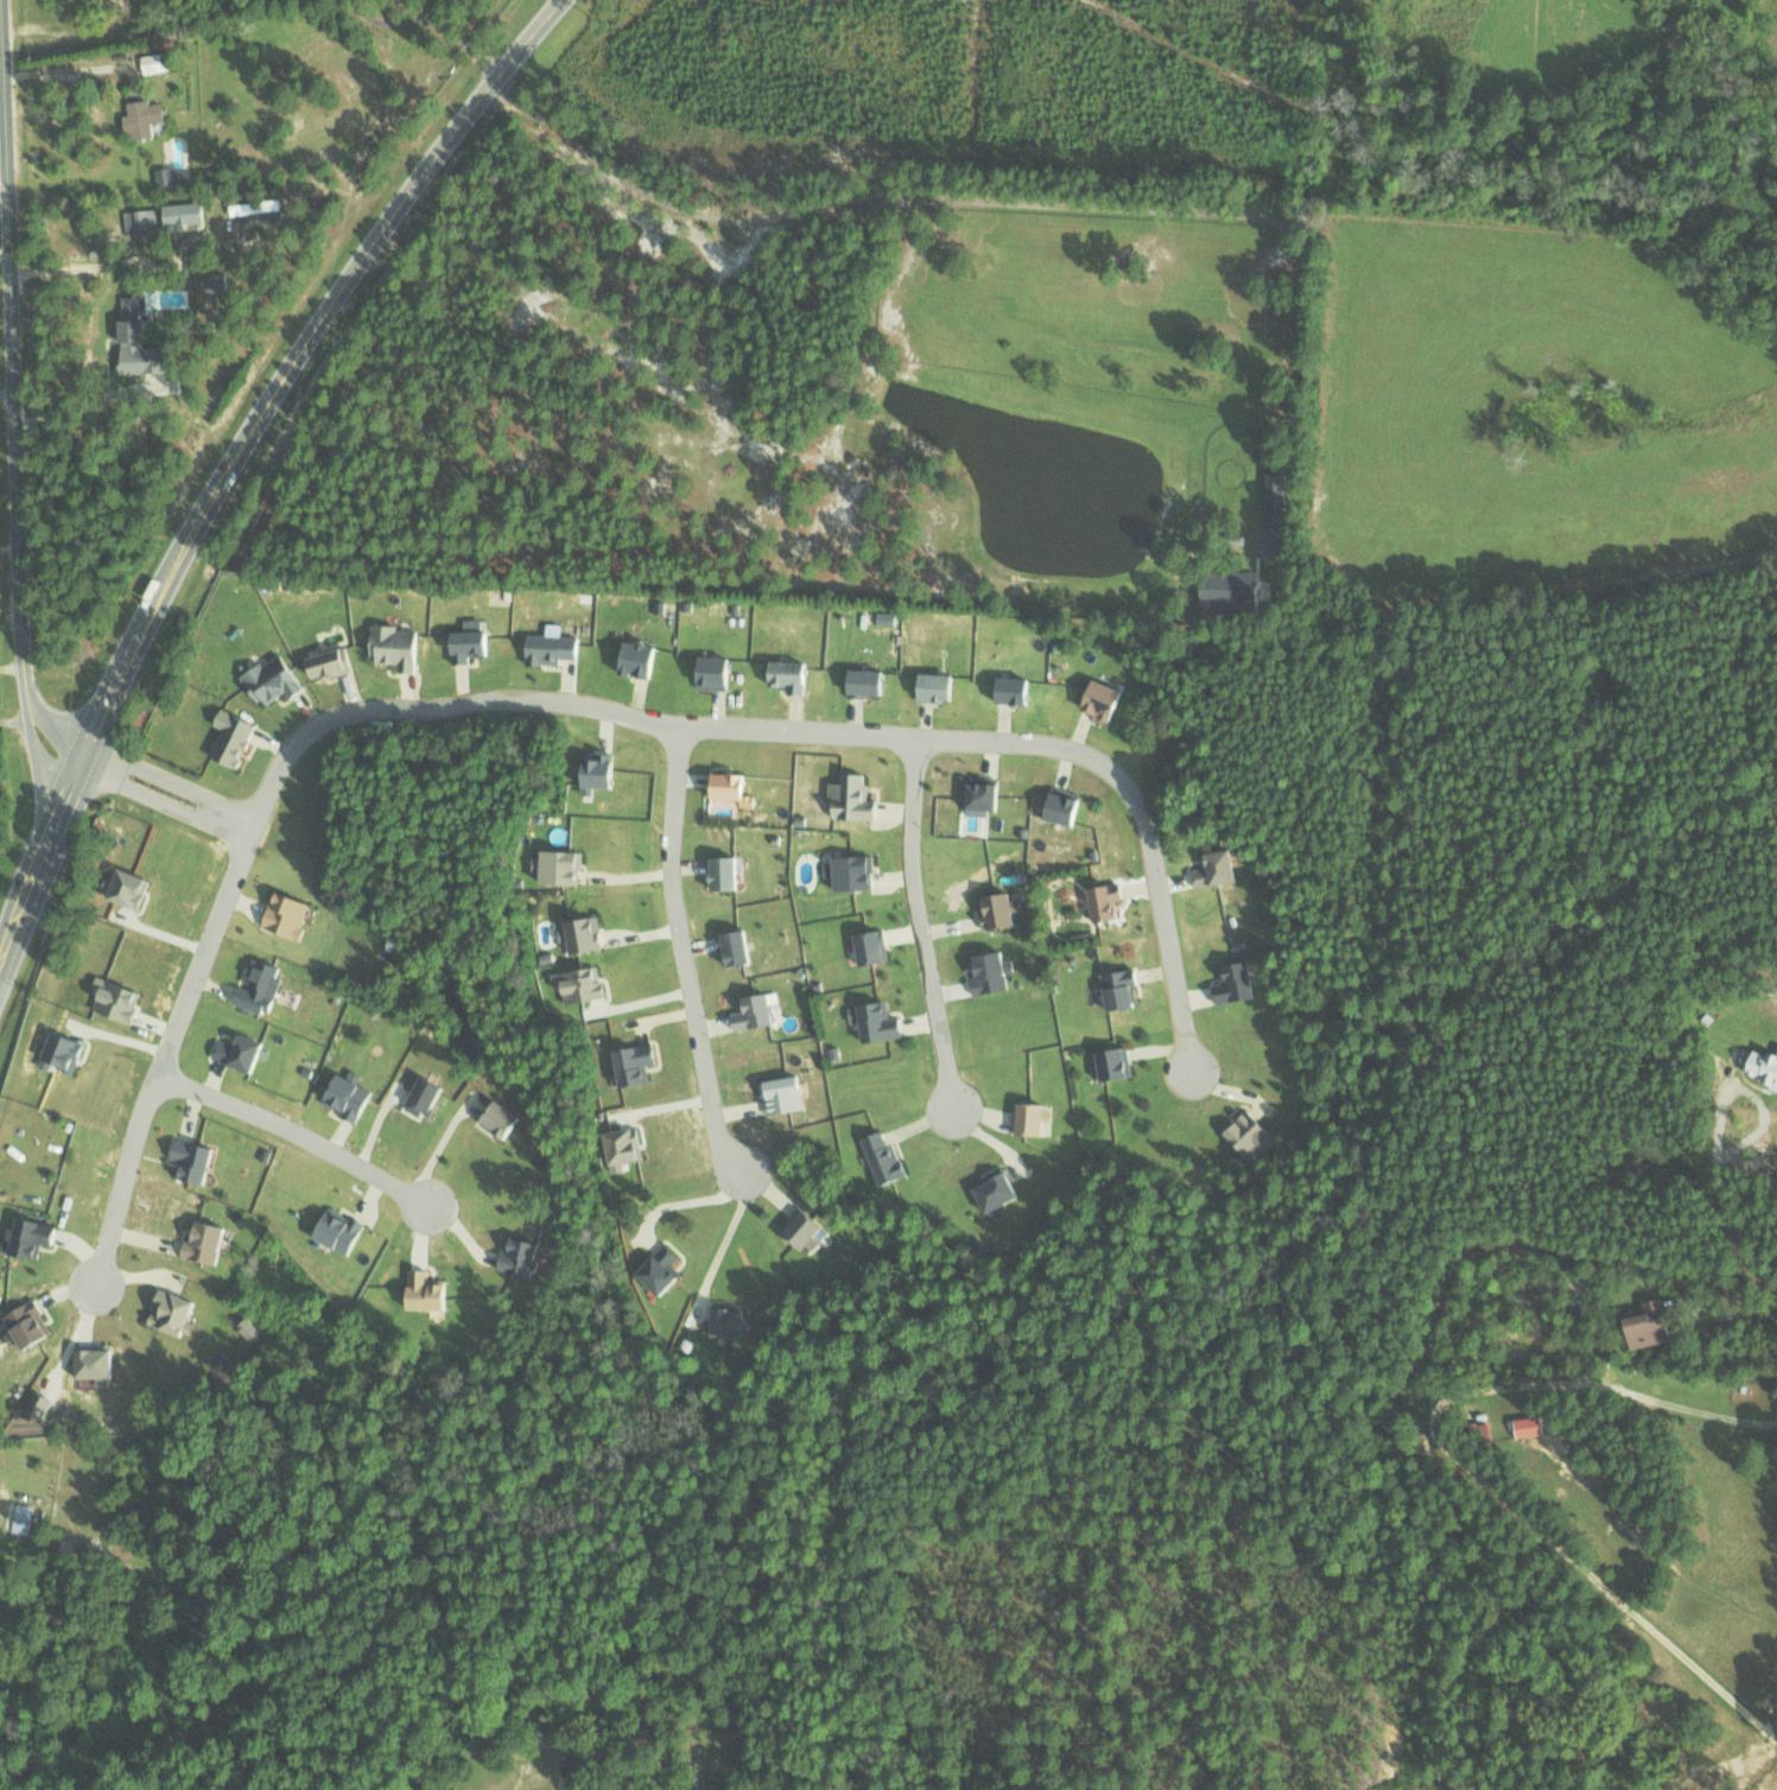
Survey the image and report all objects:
building: (160, 62)
building: (147, 118)
building: (171, 177)
building: (256, 205)
building: (186, 215)
building: (138, 220)
building: (217, 281)
building: (142, 339)
road: (11, 345)
road: (236, 455)
building: (1268, 499)
building: (1243, 588)
building: (889, 617)
building: (475, 641)
building: (400, 645)
building: (557, 647)
building: (643, 658)
building: (332, 662)
building: (719, 672)
building: (793, 674)
building: (277, 678)
building: (871, 681)
building: (941, 686)
building: (1018, 690)
building: (1106, 699)
road: (565, 703)
road: (53, 722)
building: (237, 738)
road: (36, 753)
building: (604, 770)
road: (171, 780)
building: (735, 786)
building: (986, 795)
building: (856, 798)
road: (160, 801)
building: (1068, 807)
building: (567, 867)
building: (1218, 868)
building: (856, 871)
building: (730, 872)
building: (139, 889)
building: (1110, 902)
building: (1001, 910)
building: (290, 913)
road: (918, 921)
building: (591, 935)
building: (740, 946)
building: (874, 947)
road: (683, 953)
building: (992, 972)
building: (585, 983)
building: (1239, 983)
building: (264, 986)
building: (1129, 988)
building: (122, 998)
building: (759, 1011)
building: (881, 1021)
building: (245, 1050)
building: (1122, 1064)
building: (642, 1065)
building: (1760, 1067)
building: (786, 1094)
building: (431, 1096)
building: (351, 1097)
building: (508, 1118)
building: (1034, 1118)
building: (1249, 1129)
road: (297, 1130)
building: (628, 1147)
building: (889, 1159)
building: (198, 1160)
building: (1003, 1192)
road: (1722, 1195)
building: (806, 1227)
building: (343, 1231)
building: (36, 1237)
building: (209, 1240)
building: (523, 1255)
building: (665, 1269)
building: (431, 1291)
building: (177, 1312)
road: (1734, 1313)
building: (736, 1324)
building: (32, 1325)
building: (1643, 1325)
building: (99, 1364)
building: (43, 1403)
road: (1464, 1462)

